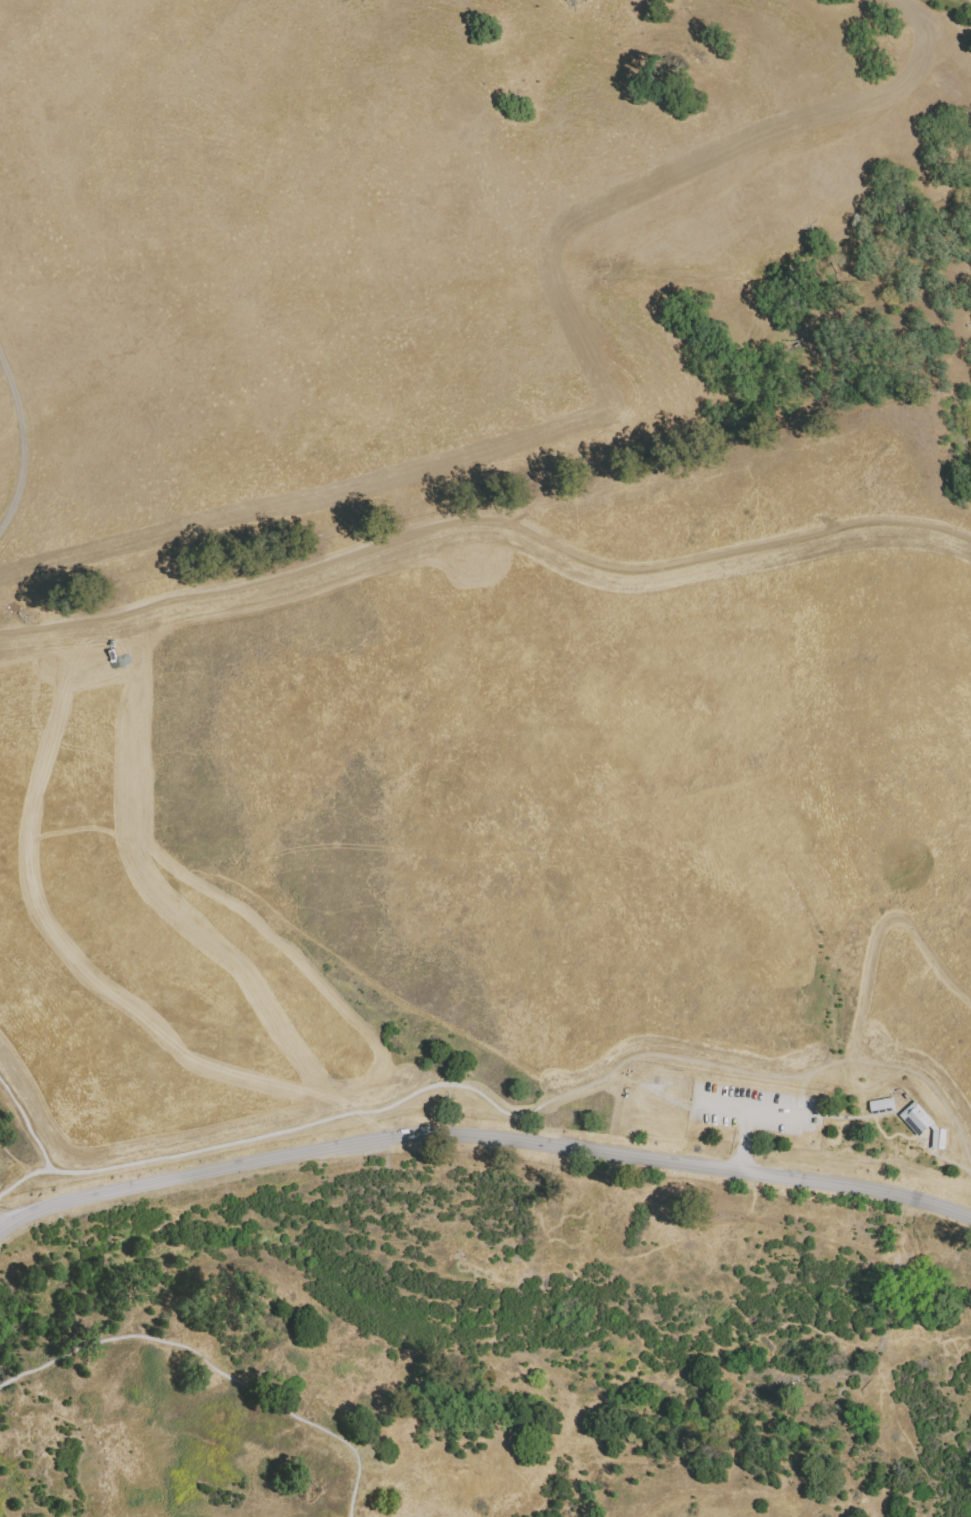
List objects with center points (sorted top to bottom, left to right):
road: (20, 441)
road: (485, 526)
road: (932, 1086)
road: (801, 1091)
road: (541, 1102)
building: (881, 1104)
road: (753, 1107)
parking lot: (752, 1110)
road: (900, 1118)
building: (915, 1118)
road: (27, 1124)
road: (483, 1137)
road: (888, 1137)
road: (743, 1139)
building: (936, 1139)
road: (16, 1183)
road: (212, 1365)

